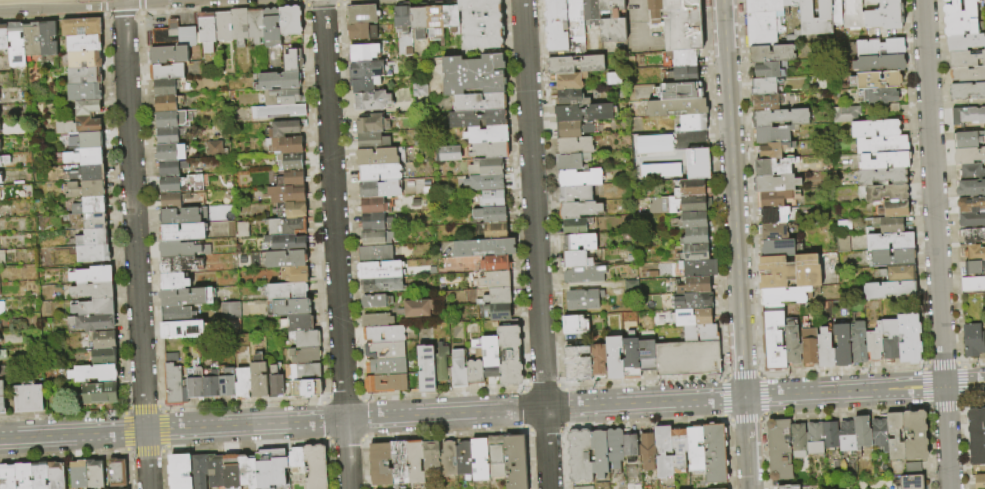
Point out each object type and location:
railway: (6, 0)
building: (946, 0)
road: (340, 1)
road: (359, 1)
railway: (93, 2)
road: (303, 2)
road: (322, 2)
building: (789, 2)
road: (121, 3)
road: (176, 3)
building: (982, 3)
road: (141, 6)
road: (103, 8)
road: (223, 8)
road: (60, 9)
building: (653, 9)
building: (589, 12)
building: (835, 12)
road: (122, 13)
building: (853, 14)
building: (363, 15)
building: (400, 16)
building: (449, 16)
building: (884, 16)
road: (51, 17)
building: (814, 17)
building: (960, 17)
building: (433, 18)
building: (290, 20)
building: (416, 20)
building: (610, 22)
building: (761, 22)
building: (480, 23)
building: (239, 24)
building: (255, 24)
road: (636, 24)
building: (223, 25)
building: (680, 25)
road: (723, 25)
building: (554, 26)
building: (76, 27)
building: (271, 27)
building: (573, 27)
building: (206, 31)
building: (362, 31)
building: (171, 35)
building: (42, 38)
building: (1, 39)
building: (26, 40)
building: (965, 41)
building: (78, 44)
building: (11, 45)
building: (879, 47)
building: (363, 52)
building: (168, 54)
building: (771, 54)
building: (967, 58)
building: (683, 59)
building: (79, 60)
building: (291, 61)
building: (879, 64)
building: (573, 65)
building: (369, 69)
building: (767, 70)
building: (166, 71)
building: (967, 74)
building: (469, 75)
building: (683, 75)
building: (79, 76)
building: (278, 80)
building: (878, 80)
building: (565, 82)
building: (364, 84)
building: (164, 86)
building: (763, 87)
building: (966, 90)
building: (79, 92)
building: (679, 92)
building: (280, 96)
building: (881, 96)
building: (568, 98)
building: (371, 100)
building: (475, 102)
building: (165, 103)
building: (764, 103)
building: (82, 108)
building: (673, 108)
building: (281, 110)
building: (581, 113)
building: (845, 113)
building: (968, 115)
building: (169, 118)
building: (780, 118)
building: (473, 119)
building: (691, 123)
building: (372, 124)
building: (83, 125)
building: (60, 127)
building: (283, 128)
building: (874, 128)
building: (565, 130)
building: (774, 134)
building: (482, 135)
building: (167, 136)
building: (966, 139)
building: (86, 140)
building: (372, 141)
building: (653, 143)
building: (285, 144)
building: (881, 144)
building: (573, 146)
building: (213, 148)
building: (485, 150)
building: (771, 150)
building: (170, 152)
building: (448, 152)
building: (968, 154)
power substation: (667, 156)
building: (80, 157)
building: (377, 157)
building: (3, 159)
building: (884, 160)
building: (291, 161)
building: (567, 163)
building: (696, 164)
building: (482, 166)
building: (646, 166)
building: (773, 167)
building: (168, 168)
building: (972, 171)
building: (87, 172)
building: (380, 173)
building: (881, 177)
building: (290, 178)
building: (0, 179)
building: (577, 179)
building: (481, 182)
building: (775, 183)
building: (168, 184)
road: (750, 187)
building: (970, 187)
building: (691, 188)
building: (72, 189)
building: (88, 189)
building: (379, 189)
road: (714, 189)
building: (885, 192)
building: (286, 193)
building: (595, 193)
building: (574, 195)
building: (489, 198)
building: (772, 199)
building: (170, 200)
building: (971, 203)
building: (89, 205)
building: (374, 205)
building: (677, 205)
building: (895, 208)
building: (291, 210)
building: (577, 210)
building: (180, 215)
building: (485, 215)
building: (774, 215)
building: (971, 218)
building: (692, 220)
building: (84, 221)
building: (376, 221)
building: (890, 225)
building: (286, 226)
building: (574, 226)
building: (489, 231)
building: (182, 232)
building: (774, 232)
building: (973, 235)
building: (376, 237)
building: (692, 237)
building: (87, 238)
building: (889, 241)
building: (286, 242)
building: (577, 243)
road: (335, 244)
road: (534, 244)
road: (936, 244)
road: (134, 247)
building: (480, 247)
building: (778, 247)
building: (182, 249)
building: (974, 252)
building: (694, 253)
building: (88, 254)
building: (375, 254)
building: (892, 257)
building: (285, 259)
building: (572, 259)
building: (492, 263)
building: (179, 264)
building: (974, 267)
building: (380, 269)
building: (696, 269)
road: (737, 269)
building: (789, 272)
building: (898, 273)
building: (295, 274)
building: (582, 275)
building: (87, 276)
building: (491, 279)
building: (174, 281)
building: (972, 283)
building: (382, 284)
building: (696, 285)
building: (287, 290)
building: (890, 290)
building: (87, 291)
building: (783, 295)
building: (186, 296)
building: (492, 297)
building: (581, 300)
building: (373, 301)
building: (691, 302)
building: (292, 307)
building: (88, 308)
building: (415, 309)
building: (228, 310)
building: (493, 312)
building: (175, 313)
building: (691, 318)
building: (376, 320)
building: (300, 322)
building: (88, 323)
building: (503, 323)
building: (573, 325)
building: (182, 329)
building: (984, 333)
building: (384, 334)
building: (699, 334)
building: (909, 337)
building: (307, 338)
building: (890, 339)
building: (99, 340)
building: (972, 340)
building: (773, 341)
building: (857, 342)
building: (874, 342)
building: (792, 344)
building: (841, 344)
building: (809, 346)
building: (824, 349)
building: (385, 350)
building: (304, 355)
building: (99, 356)
building: (486, 356)
building: (505, 356)
building: (645, 356)
building: (170, 357)
building: (612, 358)
building: (686, 359)
building: (596, 360)
building: (629, 361)
building: (436, 364)
building: (575, 364)
road: (925, 365)
building: (386, 366)
building: (421, 368)
building: (454, 369)
building: (308, 372)
building: (470, 372)
building: (88, 373)
road: (743, 375)
road: (761, 375)
road: (723, 377)
building: (257, 380)
building: (227, 382)
building: (275, 382)
building: (194, 383)
building: (386, 383)
building: (174, 384)
building: (211, 384)
building: (241, 384)
building: (305, 388)
road: (864, 390)
building: (1, 394)
building: (92, 394)
building: (24, 399)
road: (371, 417)
road: (741, 417)
building: (861, 431)
building: (878, 432)
building: (846, 433)
building: (829, 434)
building: (894, 435)
building: (914, 435)
road: (962, 435)
building: (975, 435)
building: (814, 438)
building: (797, 440)
building: (629, 446)
building: (614, 447)
building: (679, 448)
building: (695, 448)
building: (647, 449)
building: (778, 449)
building: (663, 451)
building: (598, 452)
building: (715, 453)
building: (579, 455)
building: (426, 457)
building: (491, 458)
building: (292, 459)
building: (459, 459)
building: (443, 460)
building: (474, 460)
building: (510, 462)
building: (394, 463)
building: (410, 463)
building: (375, 465)
building: (312, 467)
building: (913, 468)
building: (198, 471)
building: (215, 471)
building: (231, 471)
building: (179, 472)
building: (247, 472)
building: (113, 473)
building: (91, 474)
building: (53, 475)
building: (75, 475)
building: (20, 476)
building: (36, 476)
building: (6, 477)
building: (912, 481)
building: (979, 481)
building: (581, 485)
building: (788, 487)
building: (725, 488)

